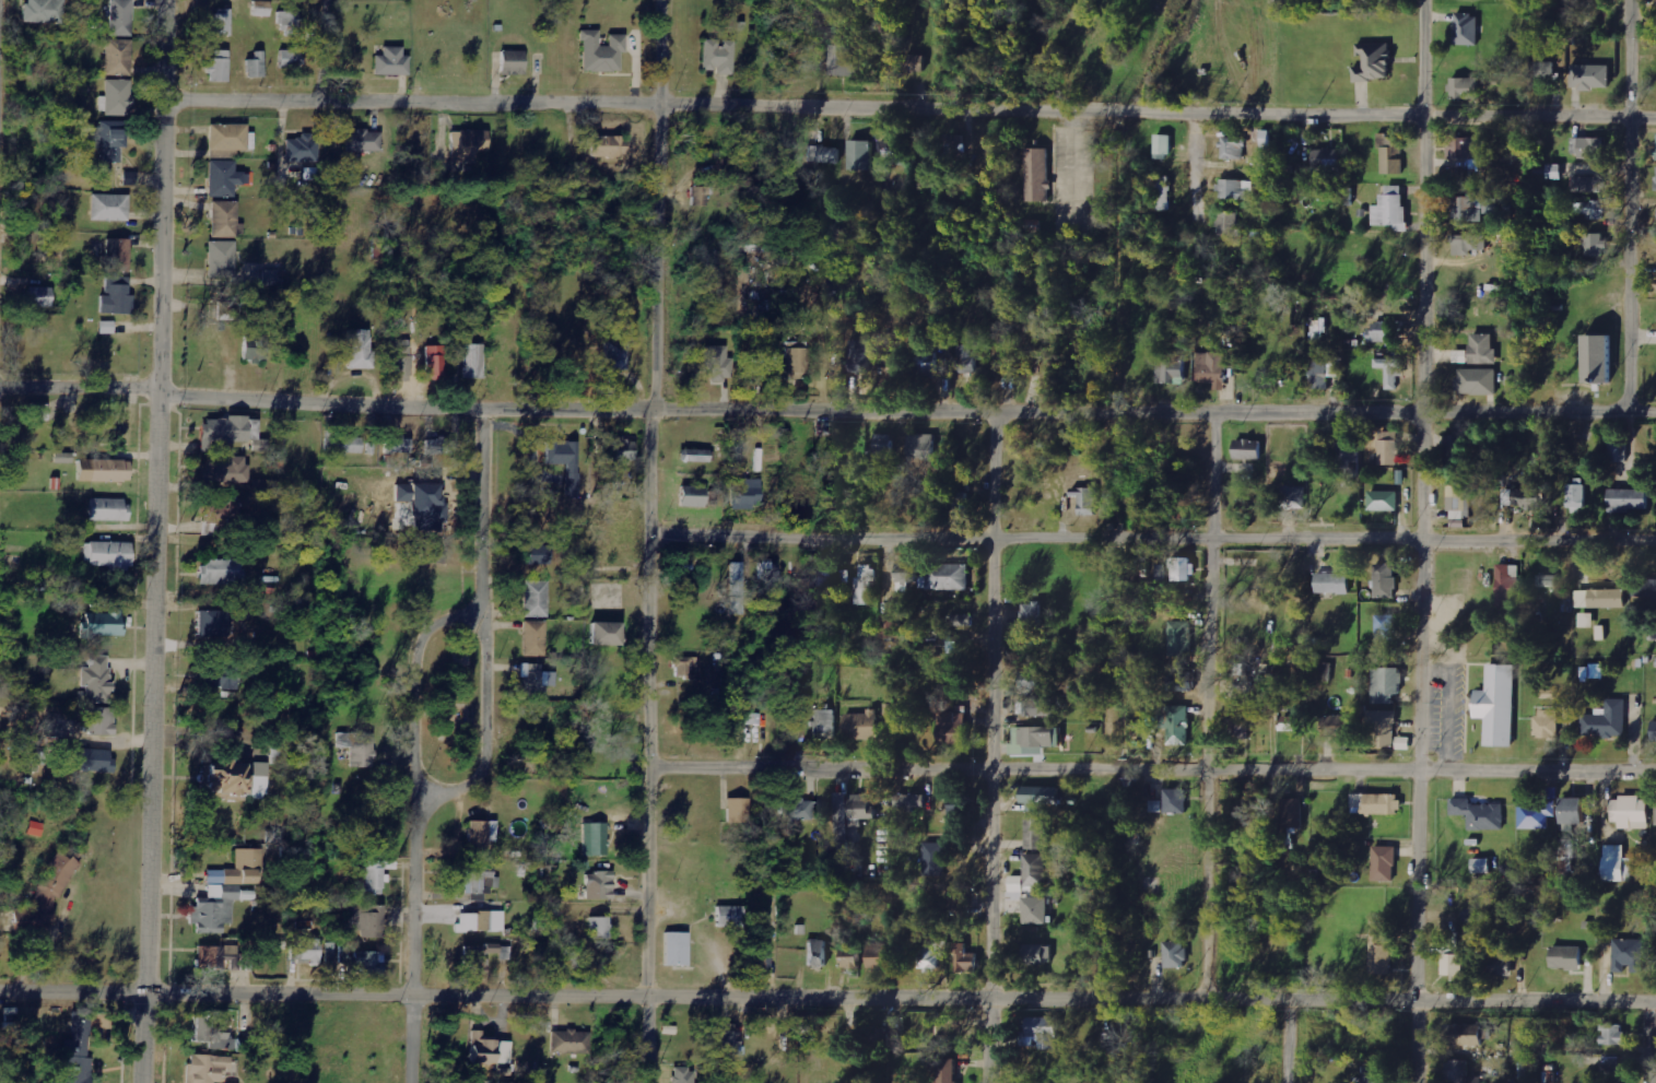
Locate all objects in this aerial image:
building: (261, 9)
building: (45, 11)
building: (121, 17)
building: (221, 23)
building: (291, 25)
building: (1468, 30)
road: (322, 50)
building: (602, 52)
building: (119, 57)
building: (719, 57)
building: (291, 59)
building: (844, 60)
building: (392, 62)
building: (1375, 62)
building: (513, 63)
building: (916, 63)
building: (219, 67)
building: (256, 67)
building: (1547, 74)
building: (1592, 76)
building: (1465, 87)
building: (117, 98)
road: (908, 108)
building: (231, 138)
building: (363, 141)
building: (109, 142)
building: (955, 144)
building: (1164, 144)
building: (468, 146)
building: (609, 146)
building: (1468, 146)
building: (1234, 148)
building: (1588, 148)
building: (303, 150)
building: (891, 152)
building: (824, 154)
building: (860, 155)
building: (1390, 155)
building: (1328, 160)
building: (1037, 175)
building: (225, 179)
building: (1588, 184)
building: (1235, 189)
building: (1163, 192)
road: (1195, 192)
road: (1628, 207)
building: (109, 208)
building: (1393, 209)
building: (1473, 209)
building: (1594, 210)
building: (225, 220)
building: (1229, 224)
building: (1468, 244)
building: (1593, 245)
building: (118, 256)
building: (222, 260)
building: (39, 297)
building: (117, 297)
building: (225, 311)
building: (106, 328)
building: (1385, 331)
building: (1483, 349)
building: (255, 350)
building: (360, 350)
building: (1009, 352)
building: (615, 355)
building: (860, 355)
building: (1460, 356)
building: (1599, 357)
building: (402, 360)
building: (967, 360)
building: (435, 361)
building: (470, 361)
building: (795, 361)
building: (717, 364)
building: (1171, 367)
building: (1213, 368)
building: (1391, 370)
building: (1320, 373)
building: (1477, 381)
road: (327, 403)
road: (1155, 411)
building: (38, 412)
building: (230, 431)
building: (343, 444)
building: (398, 445)
building: (1457, 446)
building: (439, 447)
building: (881, 447)
building: (920, 447)
building: (1389, 447)
building: (1249, 449)
building: (623, 450)
building: (1619, 451)
building: (696, 456)
building: (63, 458)
building: (567, 462)
building: (104, 470)
building: (224, 471)
building: (747, 493)
building: (693, 496)
building: (1293, 496)
building: (1524, 497)
building: (1578, 497)
building: (1630, 498)
building: (1087, 499)
building: (1384, 499)
building: (959, 501)
building: (1458, 501)
building: (1179, 507)
building: (427, 509)
building: (221, 510)
building: (1459, 523)
road: (1154, 539)
road: (157, 541)
road: (653, 541)
road: (1419, 541)
building: (539, 554)
building: (108, 555)
building: (1183, 568)
building: (222, 572)
building: (766, 574)
building: (826, 574)
building: (907, 576)
building: (947, 576)
building: (1386, 580)
building: (1547, 580)
building: (1334, 582)
building: (1508, 584)
building: (867, 586)
building: (737, 588)
building: (1649, 590)
building: (1601, 598)
building: (537, 599)
building: (1031, 614)
road: (488, 620)
building: (964, 620)
building: (1587, 620)
building: (103, 623)
building: (212, 623)
building: (891, 626)
building: (1387, 627)
building: (1601, 632)
building: (606, 634)
building: (535, 638)
building: (1181, 638)
building: (686, 672)
building: (1319, 672)
building: (1593, 672)
road: (420, 674)
building: (223, 678)
building: (97, 680)
building: (537, 680)
building: (1034, 680)
building: (1184, 681)
building: (1387, 684)
park: (455, 694)
building: (1499, 704)
road: (1206, 706)
building: (1037, 707)
building: (1240, 711)
building: (1339, 720)
building: (101, 721)
building: (1176, 722)
building: (1289, 723)
building: (1548, 723)
building: (825, 725)
building: (862, 725)
building: (953, 727)
building: (1383, 727)
building: (1654, 731)
building: (1035, 740)
building: (1404, 742)
road: (988, 746)
building: (359, 747)
building: (90, 760)
road: (1152, 769)
building: (236, 780)
building: (1130, 786)
building: (1042, 794)
building: (912, 801)
building: (1176, 801)
building: (1377, 803)
building: (1158, 805)
building: (958, 809)
building: (799, 810)
building: (738, 811)
building: (1576, 811)
building: (1632, 812)
building: (1480, 813)
building: (1292, 815)
building: (842, 816)
building: (1037, 832)
building: (483, 833)
building: (595, 839)
building: (1572, 852)
building: (1385, 863)
building: (1617, 863)
building: (1482, 866)
building: (239, 870)
building: (1031, 874)
building: (372, 879)
building: (479, 880)
building: (599, 886)
building: (958, 902)
building: (214, 909)
building: (1036, 910)
building: (730, 917)
building: (366, 922)
building: (481, 922)
building: (599, 928)
road: (415, 937)
building: (279, 945)
building: (1480, 946)
building: (677, 949)
building: (1382, 949)
building: (305, 950)
building: (819, 953)
building: (764, 954)
building: (880, 954)
building: (931, 954)
building: (1040, 954)
building: (1176, 954)
building: (1629, 955)
building: (218, 957)
building: (479, 957)
building: (1567, 957)
building: (850, 958)
building: (965, 958)
building: (371, 962)
building: (1503, 962)
building: (1454, 964)
road: (494, 996)
road: (1322, 1003)
building: (1043, 1032)
building: (1612, 1034)
building: (213, 1035)
building: (1467, 1035)
building: (569, 1041)
building: (731, 1041)
road: (1284, 1043)
road: (1644, 1044)
building: (490, 1050)
building: (77, 1053)
building: (208, 1069)
building: (1611, 1069)
building: (947, 1070)
building: (1460, 1072)
building: (1374, 1074)
building: (685, 1075)

